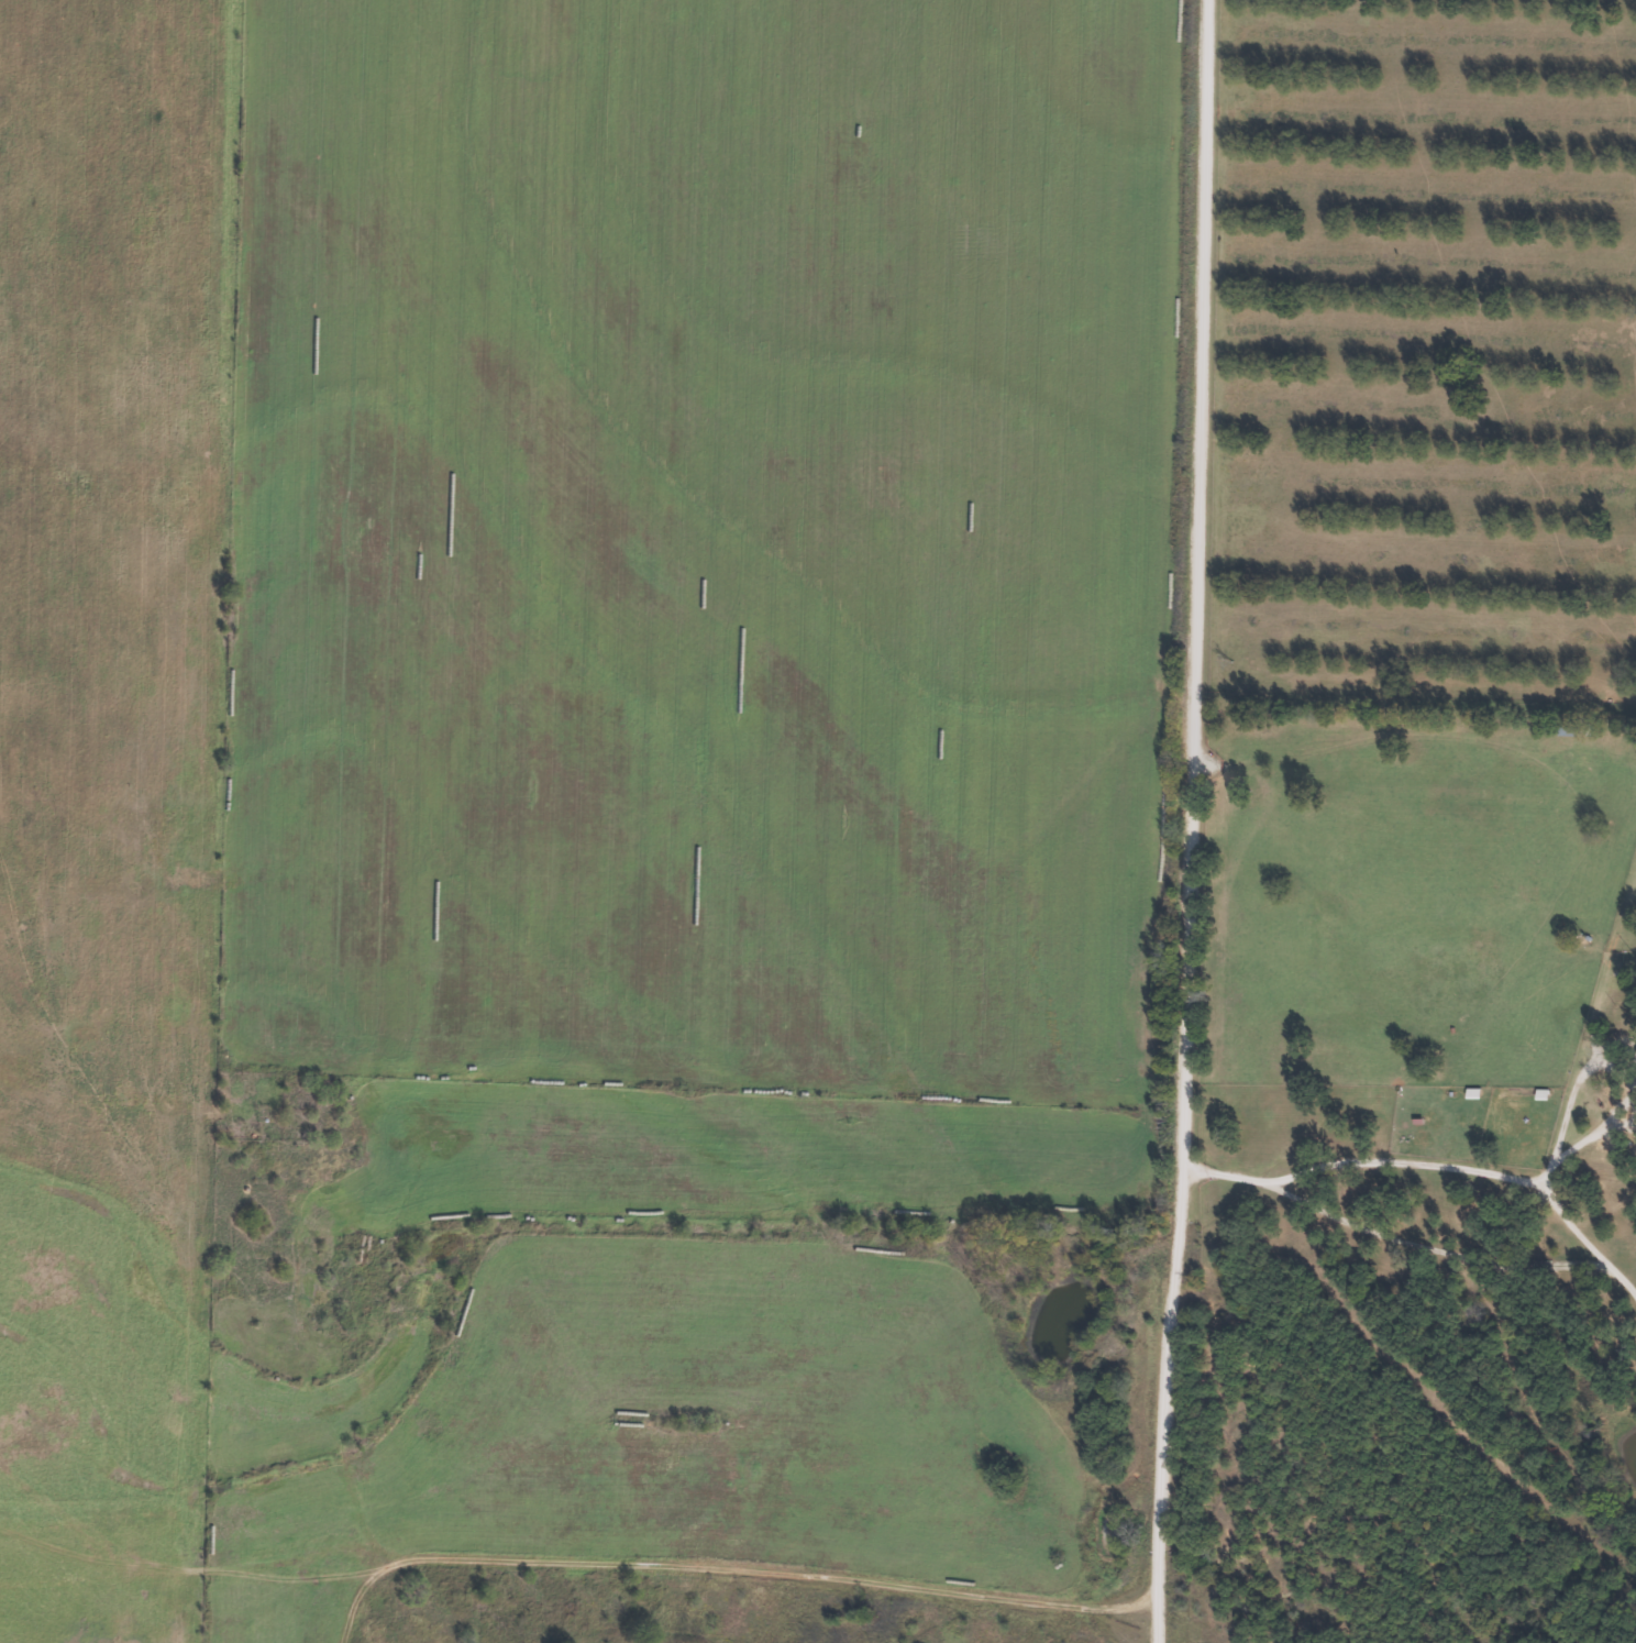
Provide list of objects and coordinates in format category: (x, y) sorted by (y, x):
road: (1175, 815)
road: (578, 1603)
road: (1157, 1636)

